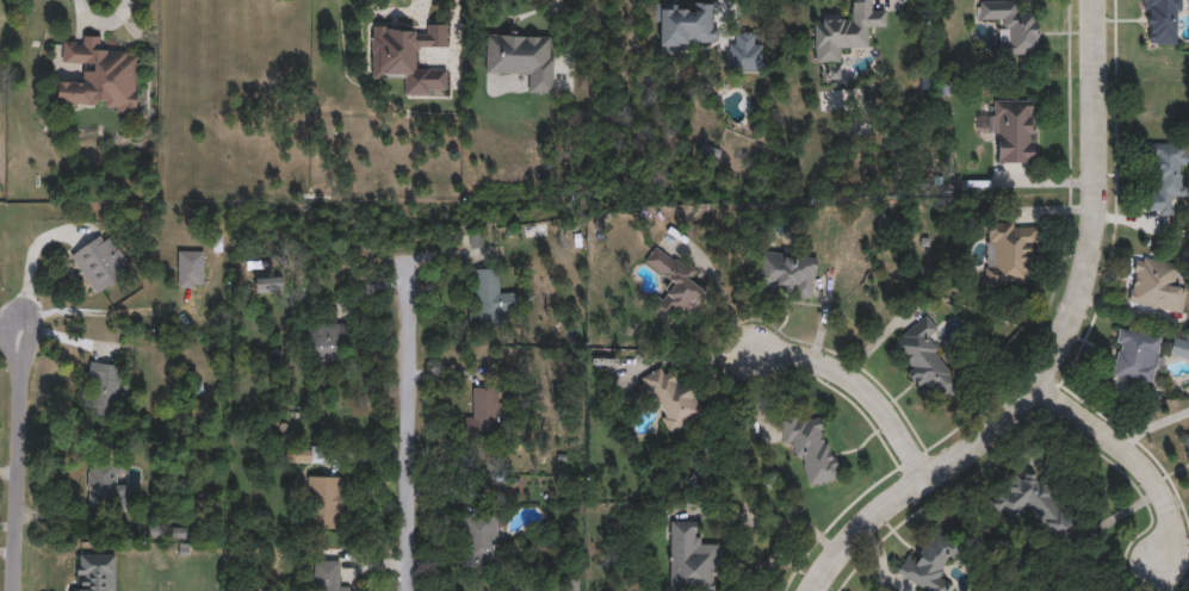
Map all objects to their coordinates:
road: (723, 6)
road: (394, 11)
road: (565, 20)
building: (1162, 21)
road: (100, 23)
building: (682, 24)
building: (1011, 25)
building: (844, 30)
building: (408, 57)
building: (521, 57)
building: (99, 76)
building: (1012, 130)
building: (1165, 176)
building: (1009, 253)
building: (101, 261)
road: (29, 263)
building: (190, 268)
building: (784, 273)
building: (268, 280)
building: (673, 282)
building: (1156, 285)
building: (488, 297)
road: (94, 310)
building: (328, 342)
road: (1058, 347)
building: (1179, 348)
building: (1137, 355)
building: (923, 359)
road: (857, 387)
building: (101, 390)
building: (663, 398)
building: (484, 413)
road: (409, 423)
building: (1187, 437)
building: (810, 447)
road: (17, 459)
road: (1133, 461)
building: (104, 485)
building: (324, 502)
building: (1035, 504)
road: (763, 522)
building: (479, 541)
road: (7, 554)
building: (689, 559)
building: (929, 565)
building: (94, 572)
building: (327, 576)

